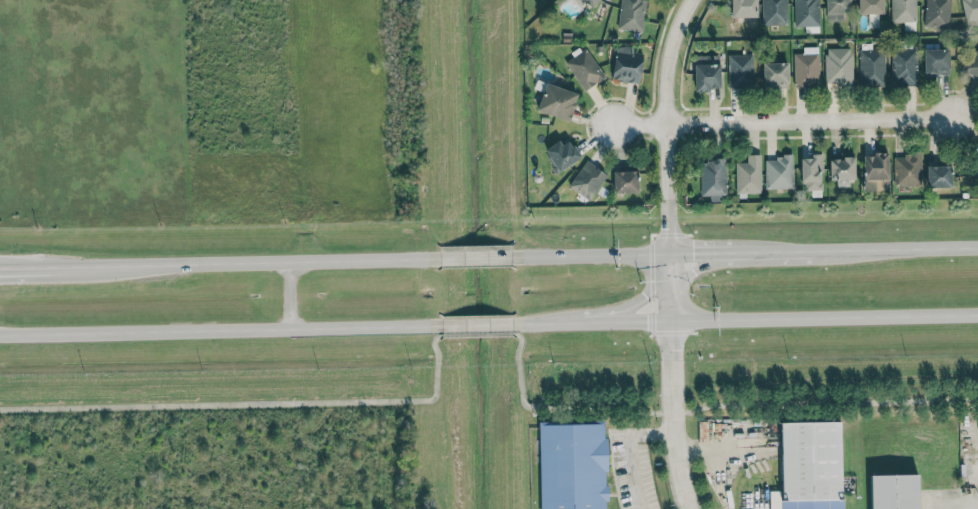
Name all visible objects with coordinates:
building: (590, 2)
building: (870, 7)
building: (743, 8)
building: (836, 9)
building: (903, 11)
building: (970, 11)
building: (774, 12)
building: (805, 13)
building: (936, 13)
building: (630, 15)
building: (935, 61)
building: (626, 64)
building: (972, 65)
building: (838, 66)
building: (871, 67)
building: (903, 67)
building: (584, 69)
building: (805, 70)
building: (739, 71)
building: (706, 72)
building: (775, 76)
building: (556, 102)
road: (789, 119)
road: (666, 123)
building: (561, 155)
building: (974, 169)
building: (907, 170)
building: (841, 171)
building: (778, 172)
building: (875, 172)
building: (811, 173)
building: (748, 175)
building: (938, 176)
building: (712, 179)
building: (587, 180)
building: (625, 182)
traffic signals: (669, 228)
road: (894, 248)
road: (781, 250)
road: (704, 251)
road: (745, 251)
traffic signals: (694, 252)
road: (590, 255)
road: (474, 257)
road: (275, 261)
road: (82, 265)
road: (26, 266)
road: (698, 268)
road: (26, 271)
traffic signals: (693, 271)
road: (290, 295)
traffic signals: (643, 296)
road: (636, 299)
road: (823, 318)
road: (633, 322)
traffic signals: (647, 322)
road: (583, 323)
road: (540, 324)
road: (477, 325)
road: (221, 331)
road: (476, 335)
road: (518, 347)
road: (433, 348)
traffic signals: (670, 351)
road: (519, 378)
road: (434, 379)
road: (671, 381)
road: (219, 405)
road: (744, 405)
road: (628, 450)
building: (572, 466)
building: (809, 466)
building: (893, 491)
building: (926, 500)
road: (961, 505)

